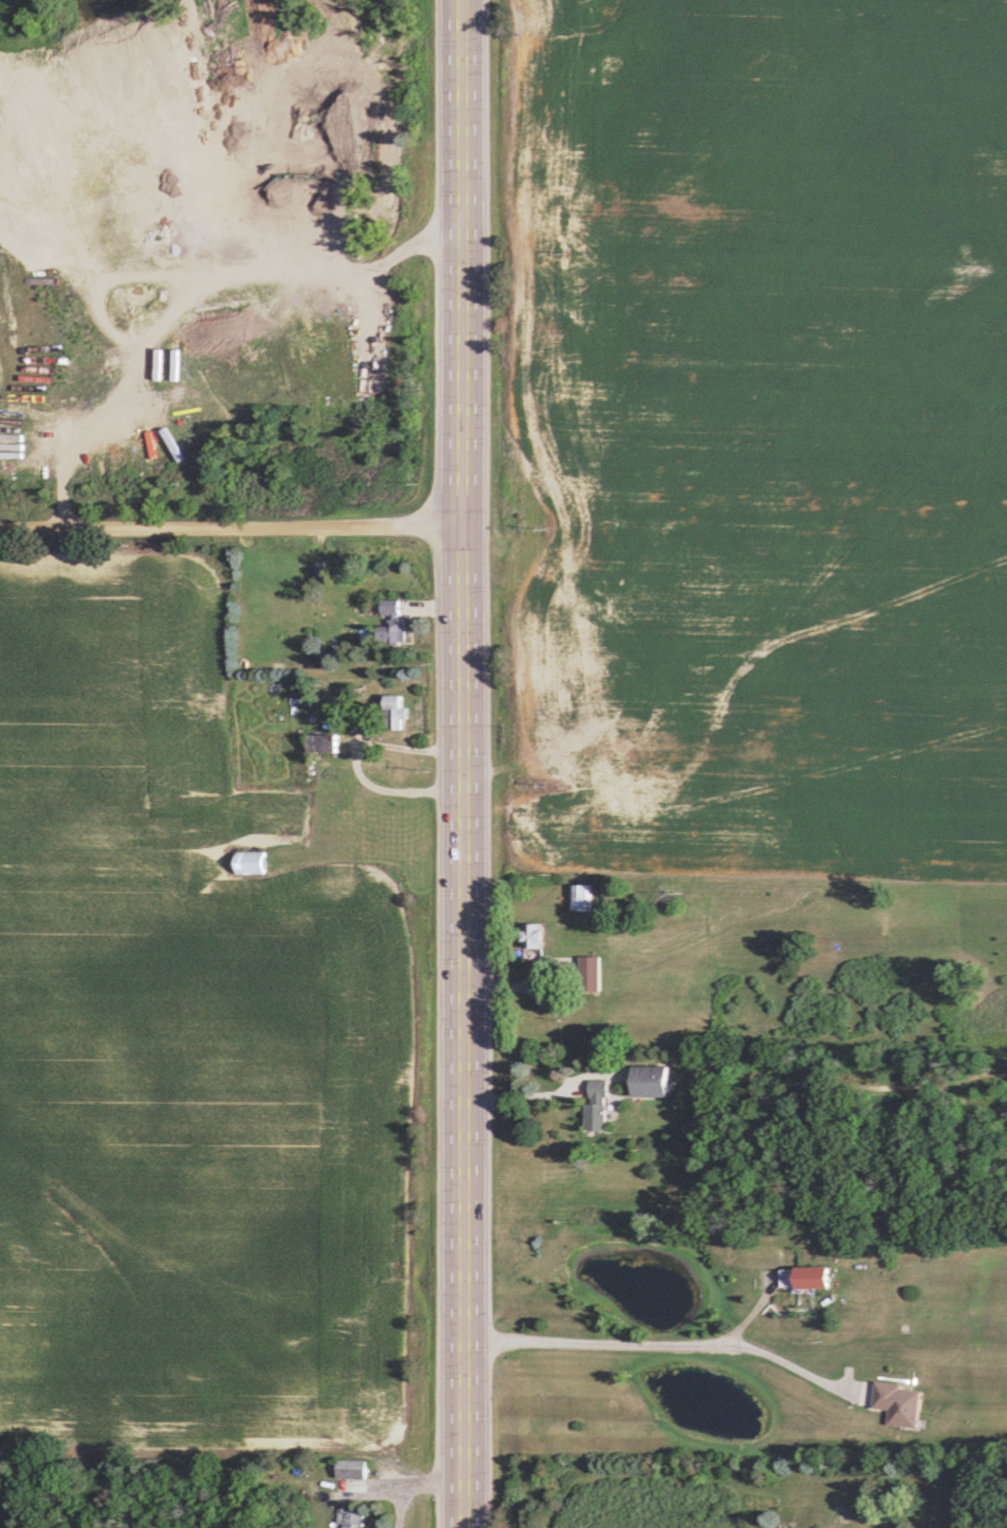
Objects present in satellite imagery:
road: (460, 264)
road: (230, 526)
building: (317, 570)
building: (391, 624)
building: (320, 660)
building: (394, 712)
building: (322, 742)
road: (354, 760)
building: (250, 862)
building: (581, 896)
building: (531, 934)
building: (588, 973)
road: (461, 1028)
building: (653, 1079)
building: (602, 1087)
road: (515, 1095)
building: (599, 1114)
building: (808, 1275)
road: (661, 1341)
building: (900, 1402)
building: (352, 1468)
road: (414, 1485)
building: (354, 1519)

